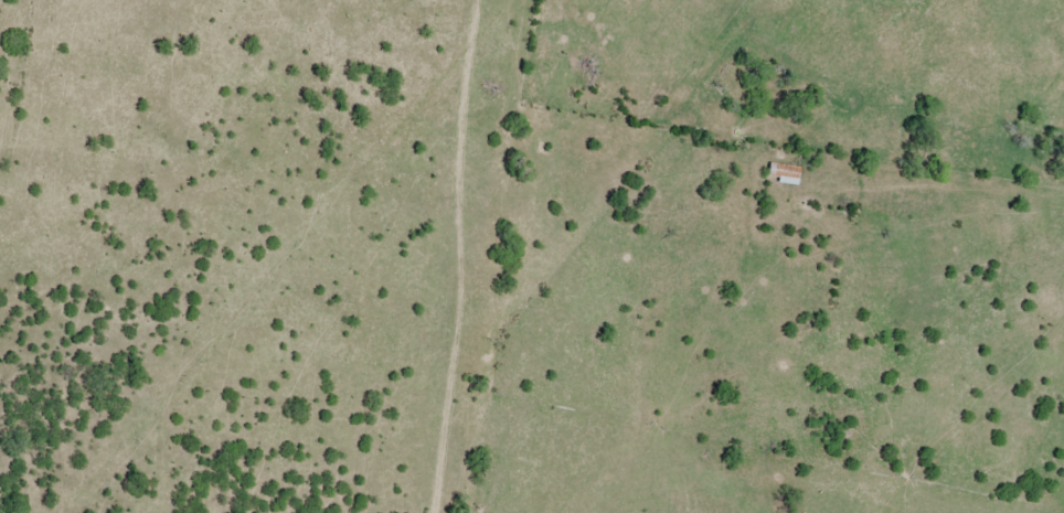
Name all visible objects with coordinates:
building: (783, 174)

